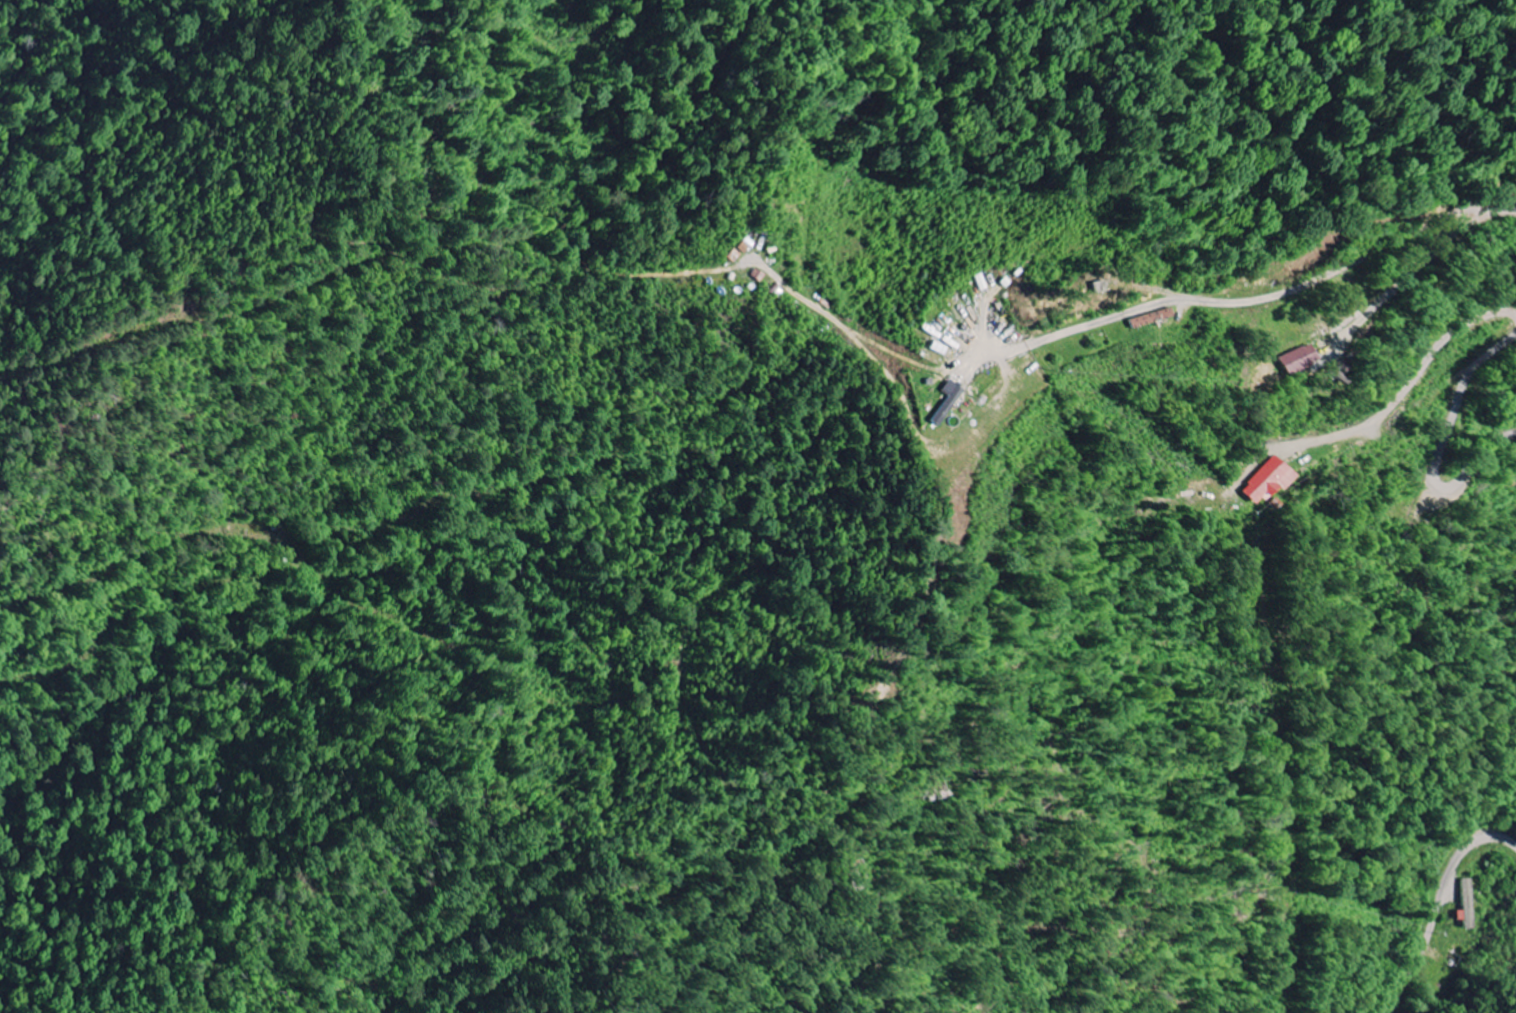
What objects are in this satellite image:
road: (1300, 284)
building: (1137, 320)
building: (1297, 361)
road: (1443, 445)
building: (1265, 483)
building: (1466, 904)
road: (1440, 905)

